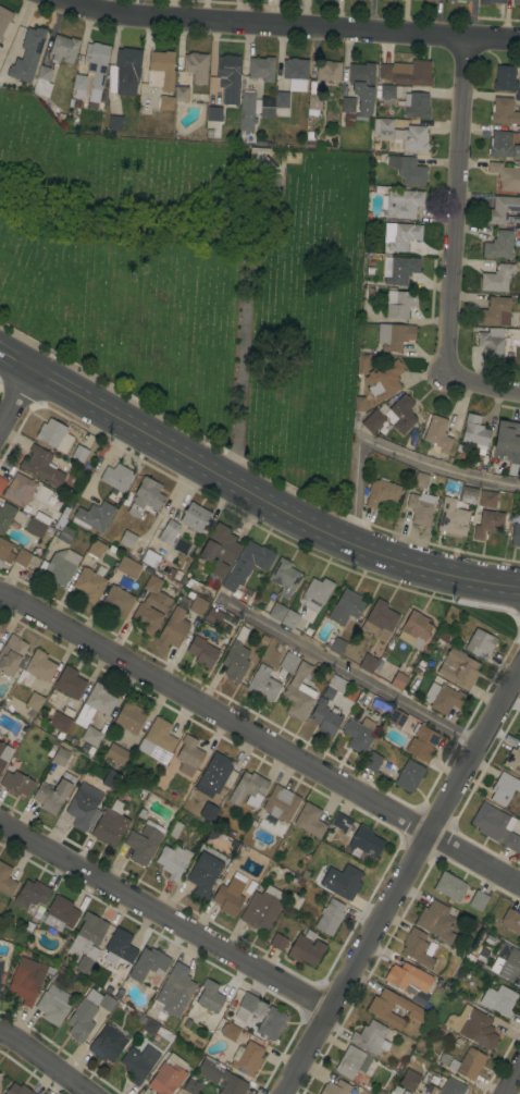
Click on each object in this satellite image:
building: (426, 0)
building: (457, 0)
building: (491, 1)
building: (516, 2)
building: (4, 22)
road: (285, 29)
building: (63, 49)
building: (27, 56)
building: (79, 66)
building: (196, 66)
building: (261, 69)
building: (126, 70)
building: (161, 71)
building: (327, 71)
building: (91, 72)
building: (295, 73)
building: (407, 73)
building: (111, 78)
building: (228, 78)
building: (506, 78)
building: (42, 81)
building: (66, 89)
building: (384, 91)
building: (181, 94)
building: (358, 94)
building: (198, 98)
building: (281, 99)
building: (267, 101)
building: (313, 101)
building: (52, 102)
building: (70, 102)
building: (165, 102)
building: (399, 102)
building: (416, 105)
building: (247, 111)
building: (504, 112)
building: (213, 113)
building: (114, 123)
building: (401, 134)
building: (519, 134)
building: (504, 145)
building: (407, 170)
building: (506, 176)
road: (450, 197)
building: (403, 204)
building: (502, 210)
building: (403, 236)
building: (502, 244)
building: (516, 254)
building: (398, 270)
building: (496, 279)
park: (196, 282)
building: (370, 290)
building: (399, 304)
building: (495, 311)
building: (512, 333)
building: (394, 336)
building: (491, 343)
building: (362, 365)
building: (384, 381)
road: (473, 384)
road: (16, 401)
building: (358, 411)
building: (392, 416)
building: (474, 433)
building: (437, 434)
building: (53, 435)
building: (508, 445)
building: (458, 447)
road: (391, 450)
building: (78, 454)
building: (449, 459)
building: (41, 467)
building: (116, 478)
building: (420, 480)
building: (18, 490)
building: (381, 492)
road: (251, 493)
building: (468, 495)
building: (146, 496)
building: (486, 499)
building: (419, 509)
building: (5, 516)
building: (94, 516)
building: (194, 517)
building: (451, 518)
building: (518, 518)
building: (486, 523)
building: (36, 528)
building: (64, 533)
building: (169, 533)
building: (515, 534)
building: (127, 539)
building: (96, 549)
building: (219, 550)
building: (5, 552)
building: (22, 557)
building: (150, 558)
building: (247, 564)
building: (59, 566)
building: (127, 567)
building: (284, 577)
building: (89, 583)
building: (152, 583)
building: (315, 593)
building: (117, 602)
building: (197, 605)
building: (345, 607)
building: (149, 611)
building: (276, 612)
building: (214, 618)
building: (289, 619)
building: (380, 620)
building: (173, 628)
building: (414, 629)
building: (263, 639)
building: (480, 642)
building: (335, 646)
building: (201, 652)
building: (11, 654)
building: (235, 657)
building: (288, 662)
building: (367, 663)
building: (39, 666)
building: (458, 668)
road: (346, 674)
building: (398, 681)
building: (70, 683)
building: (262, 684)
building: (333, 687)
building: (298, 692)
building: (446, 700)
building: (34, 703)
building: (94, 704)
building: (343, 708)
building: (129, 717)
building: (324, 717)
building: (397, 718)
building: (59, 722)
building: (519, 733)
building: (360, 735)
building: (91, 737)
building: (158, 741)
road: (259, 742)
building: (421, 742)
building: (115, 753)
building: (4, 754)
building: (188, 755)
building: (60, 757)
building: (512, 760)
building: (372, 762)
building: (218, 772)
building: (408, 776)
building: (15, 783)
building: (504, 788)
building: (248, 790)
building: (51, 796)
building: (281, 803)
building: (84, 807)
building: (310, 820)
building: (341, 822)
building: (110, 824)
building: (496, 826)
building: (174, 829)
building: (366, 841)
building: (144, 843)
building: (173, 861)
building: (205, 871)
building: (5, 881)
road: (397, 881)
building: (344, 882)
building: (449, 886)
building: (32, 894)
building: (228, 897)
building: (294, 900)
building: (478, 900)
building: (261, 908)
building: (59, 914)
road: (161, 917)
building: (330, 917)
building: (435, 921)
building: (511, 921)
building: (88, 933)
building: (278, 942)
building: (119, 947)
building: (417, 948)
building: (306, 949)
building: (469, 958)
building: (0, 962)
building: (84, 964)
building: (148, 964)
building: (508, 964)
building: (1, 967)
building: (408, 979)
building: (26, 980)
building: (0, 986)
building: (175, 991)
building: (209, 997)
building: (498, 1000)
building: (52, 1005)
building: (245, 1006)
building: (380, 1007)
building: (87, 1013)
building: (456, 1019)
building: (270, 1022)
building: (475, 1028)
building: (228, 1031)
building: (370, 1037)
building: (108, 1044)
building: (443, 1057)
building: (246, 1059)
building: (352, 1062)
road: (42, 1064)
building: (468, 1064)
building: (136, 1065)
building: (0, 1070)
building: (221, 1077)
road: (511, 1078)
building: (166, 1079)
building: (409, 1080)
building: (191, 1086)
building: (335, 1087)
building: (449, 1087)
building: (17, 1090)

